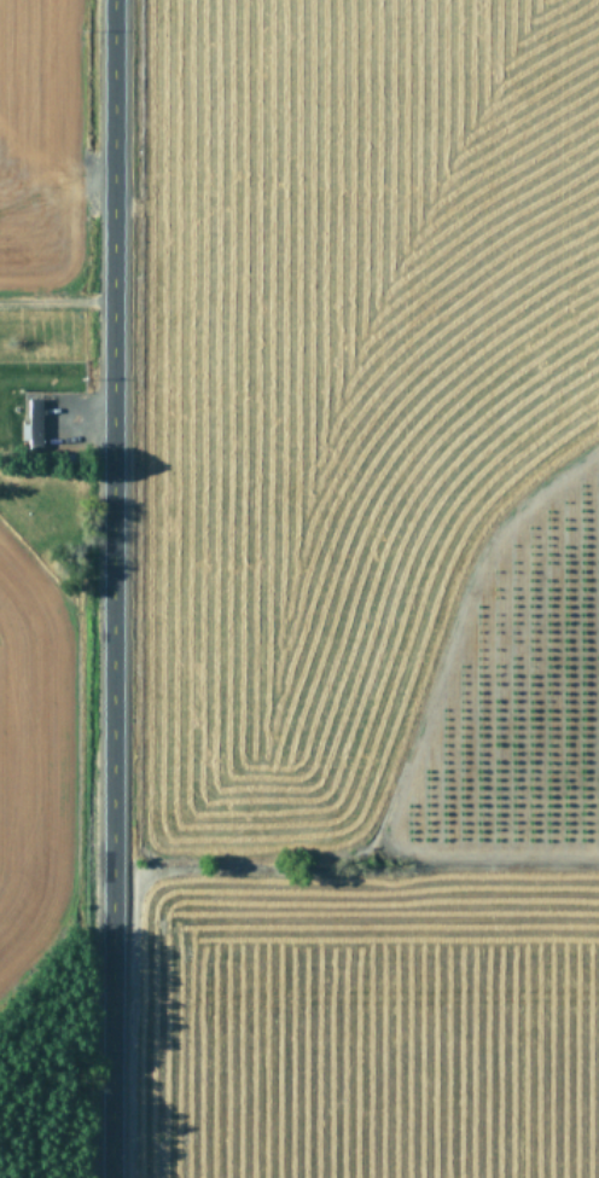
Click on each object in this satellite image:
crop: (24, 584)
road: (101, 588)
crop: (371, 588)

